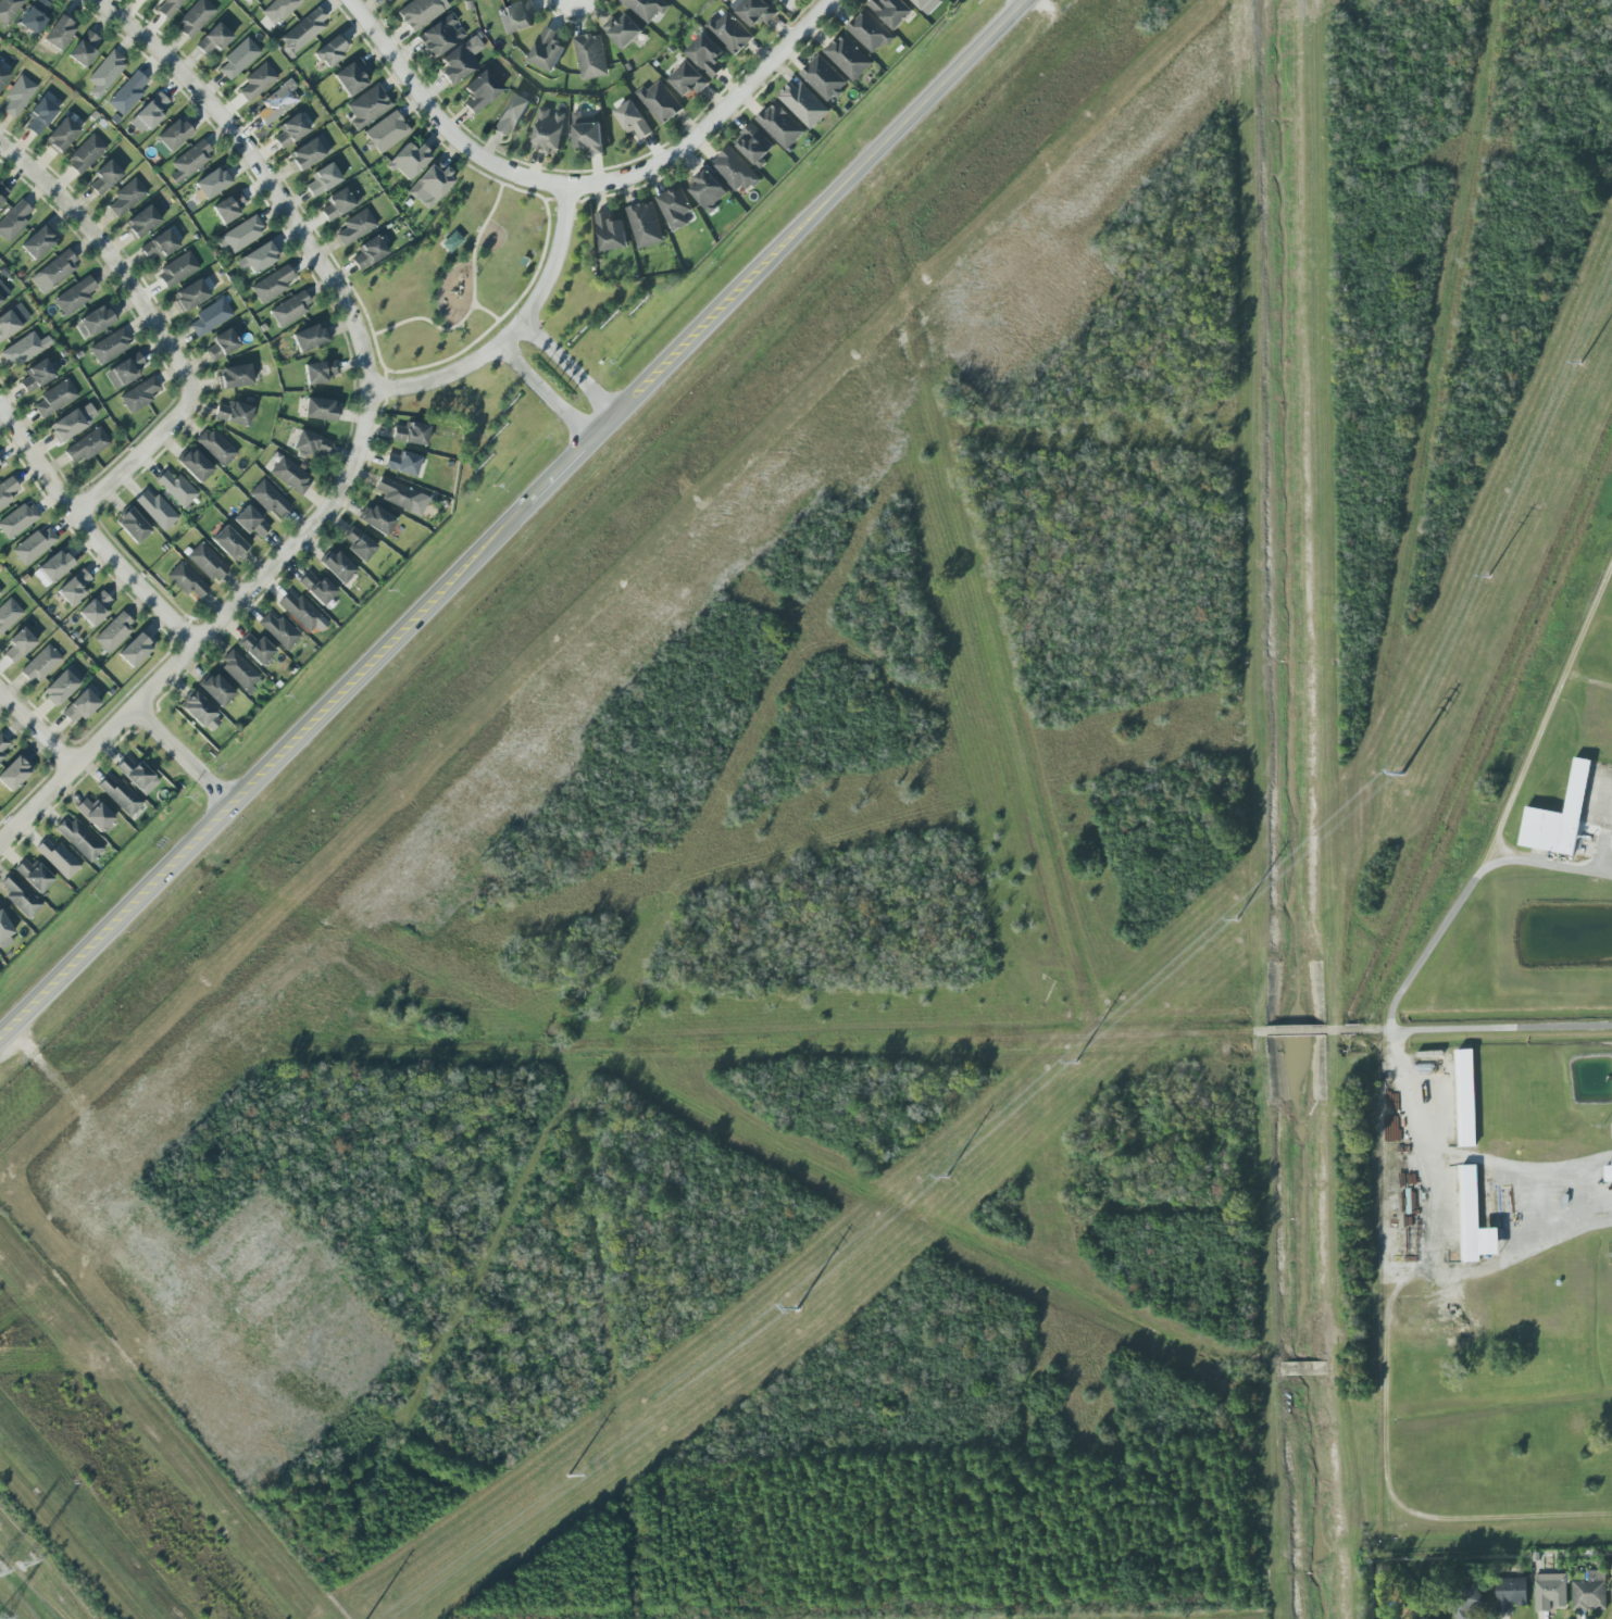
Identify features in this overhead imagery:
building: (145, 0)
building: (253, 0)
building: (387, 0)
building: (927, 4)
building: (167, 8)
building: (648, 8)
building: (277, 9)
building: (8, 10)
building: (891, 10)
building: (755, 11)
building: (420, 13)
building: (518, 14)
building: (34, 16)
building: (195, 16)
building: (303, 28)
building: (622, 29)
building: (870, 30)
building: (729, 32)
building: (59, 33)
building: (440, 36)
building: (213, 39)
building: (83, 49)
building: (547, 49)
building: (330, 50)
building: (707, 54)
building: (590, 55)
building: (848, 55)
building: (238, 58)
building: (459, 60)
building: (105, 70)
building: (2, 76)
building: (350, 77)
building: (824, 77)
building: (688, 78)
building: (257, 80)
building: (479, 91)
building: (127, 92)
building: (17, 96)
building: (660, 101)
building: (276, 102)
building: (804, 103)
building: (366, 105)
building: (149, 112)
building: (511, 112)
building: (39, 115)
road: (711, 117)
building: (633, 118)
road: (437, 120)
building: (780, 124)
building: (548, 129)
building: (289, 130)
building: (385, 131)
building: (587, 134)
building: (61, 135)
building: (173, 135)
building: (754, 143)
building: (309, 152)
building: (85, 153)
building: (408, 160)
building: (189, 161)
building: (734, 170)
road: (262, 175)
building: (104, 177)
building: (322, 179)
building: (211, 183)
building: (430, 184)
building: (708, 188)
building: (2, 192)
building: (126, 197)
building: (338, 203)
building: (228, 206)
building: (675, 206)
building: (13, 219)
road: (809, 219)
building: (141, 222)
building: (646, 224)
building: (354, 226)
building: (611, 231)
building: (242, 234)
building: (37, 242)
building: (159, 244)
building: (367, 252)
building: (254, 259)
building: (177, 268)
building: (53, 272)
park: (453, 276)
building: (271, 285)
building: (3, 292)
building: (189, 294)
building: (74, 296)
building: (289, 309)
building: (210, 316)
building: (11, 321)
building: (92, 322)
road: (154, 325)
road: (513, 332)
building: (308, 338)
building: (222, 343)
building: (110, 346)
building: (23, 349)
road: (570, 368)
building: (123, 372)
building: (317, 372)
building: (36, 375)
building: (234, 376)
road: (545, 393)
building: (139, 394)
building: (54, 398)
building: (318, 409)
building: (233, 413)
building: (73, 422)
building: (410, 434)
building: (311, 444)
building: (86, 445)
building: (215, 447)
building: (402, 463)
building: (0, 464)
building: (195, 465)
road: (560, 468)
building: (289, 475)
building: (176, 488)
building: (7, 490)
building: (401, 495)
building: (267, 498)
building: (155, 510)
building: (17, 519)
building: (376, 519)
building: (250, 522)
building: (132, 525)
road: (88, 530)
building: (228, 543)
building: (34, 544)
building: (358, 544)
building: (205, 562)
building: (337, 566)
building: (51, 567)
building: (187, 580)
building: (315, 587)
building: (74, 588)
building: (0, 592)
building: (0, 594)
building: (95, 608)
building: (301, 612)
building: (8, 614)
road: (208, 629)
building: (277, 630)
building: (113, 631)
building: (18, 644)
building: (254, 648)
building: (135, 650)
building: (39, 664)
building: (238, 670)
building: (62, 685)
building: (215, 688)
building: (79, 705)
building: (200, 713)
road: (37, 727)
building: (2, 742)
building: (1, 755)
road: (180, 755)
road: (264, 766)
building: (13, 773)
building: (136, 775)
building: (118, 794)
building: (93, 813)
building: (1558, 817)
building: (77, 838)
building: (58, 857)
road: (1555, 868)
building: (33, 875)
building: (18, 895)
building: (4, 931)
road: (1399, 1005)
road: (1467, 1027)
road: (1288, 1028)
building: (1465, 1097)
road: (1509, 1170)
building: (1608, 1172)
building: (1473, 1218)
power tower: (37, 1555)
building: (1550, 1591)
building: (1590, 1591)
building: (1511, 1593)
building: (1469, 1602)
power tower: (9, 1617)
building: (1425, 1618)

